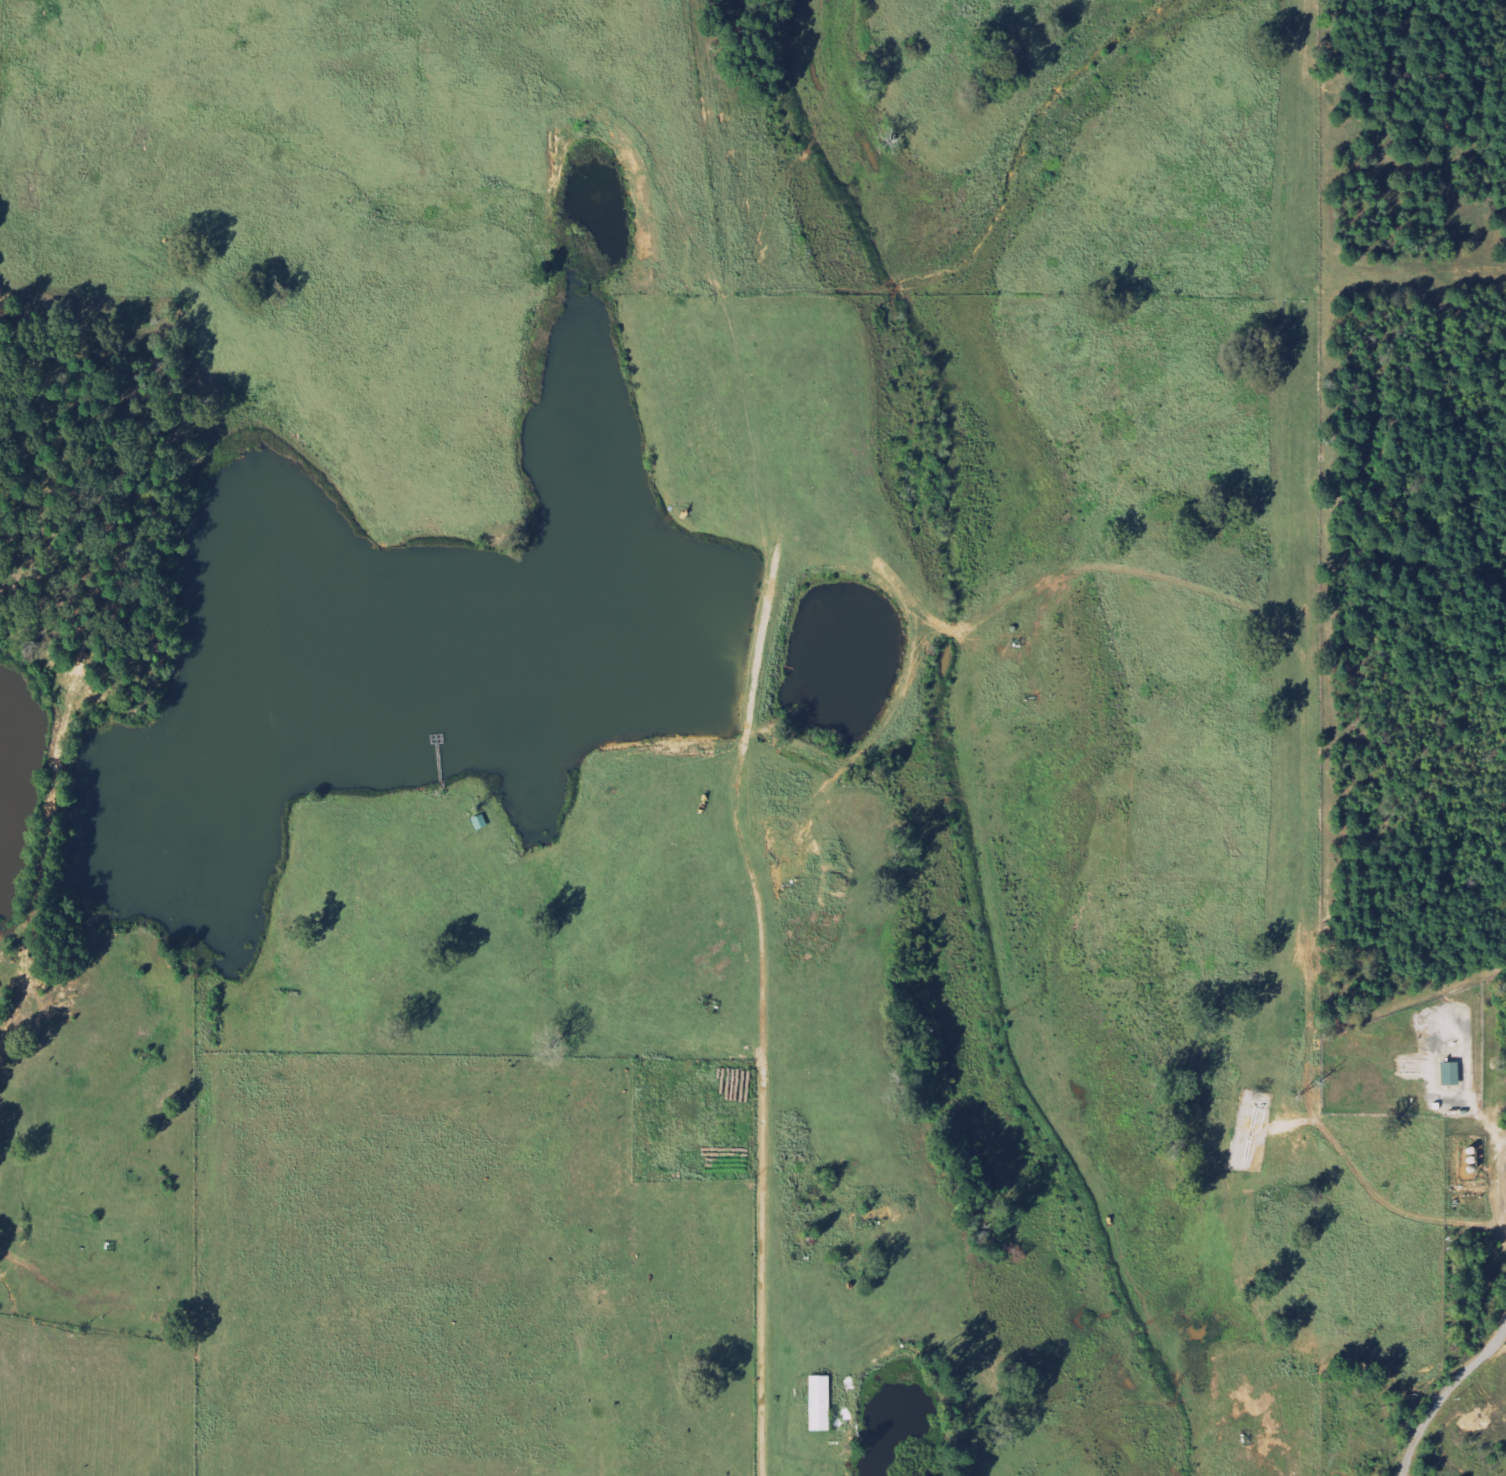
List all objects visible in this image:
dam: (44, 820)
building: (1452, 1073)
building: (821, 1403)

